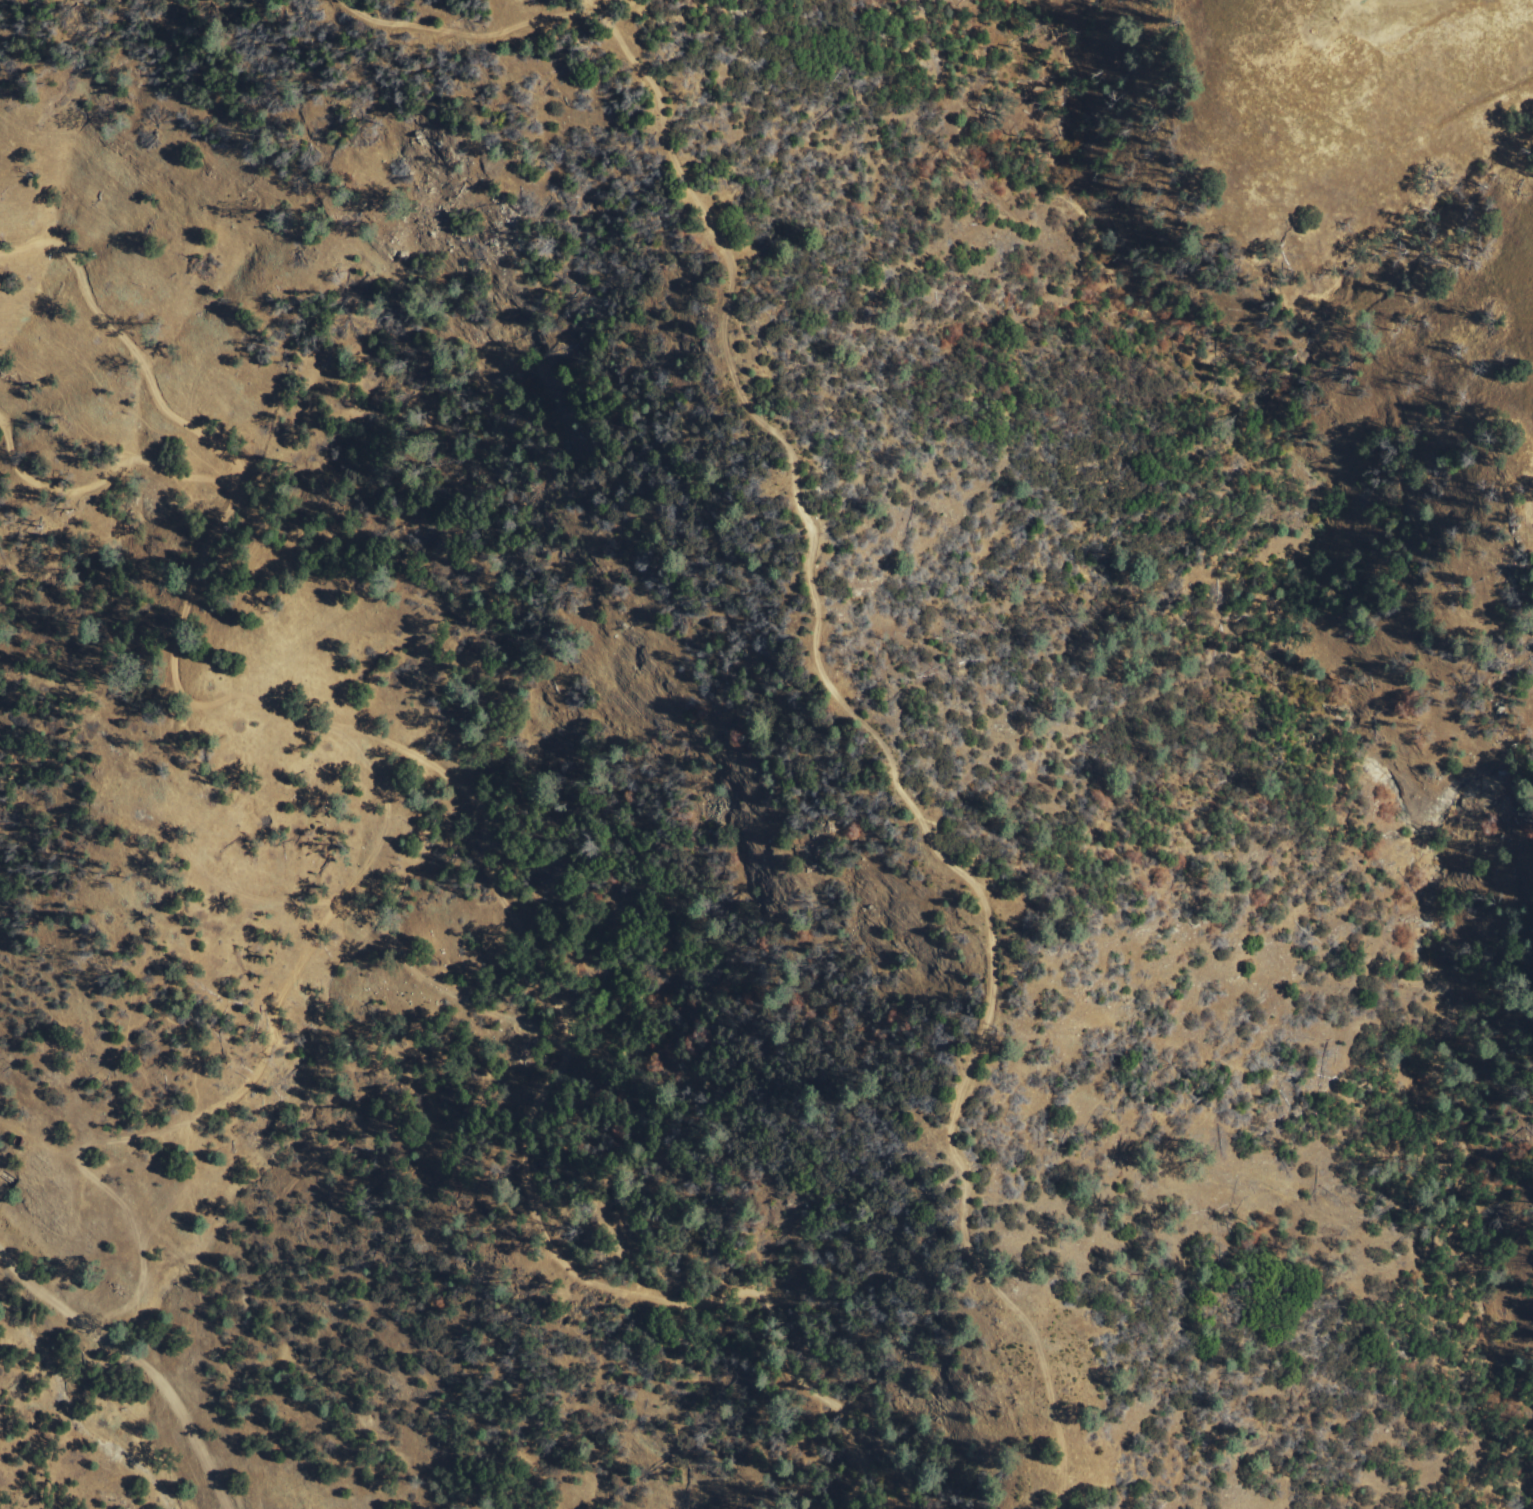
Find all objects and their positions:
road: (147, 1354)

